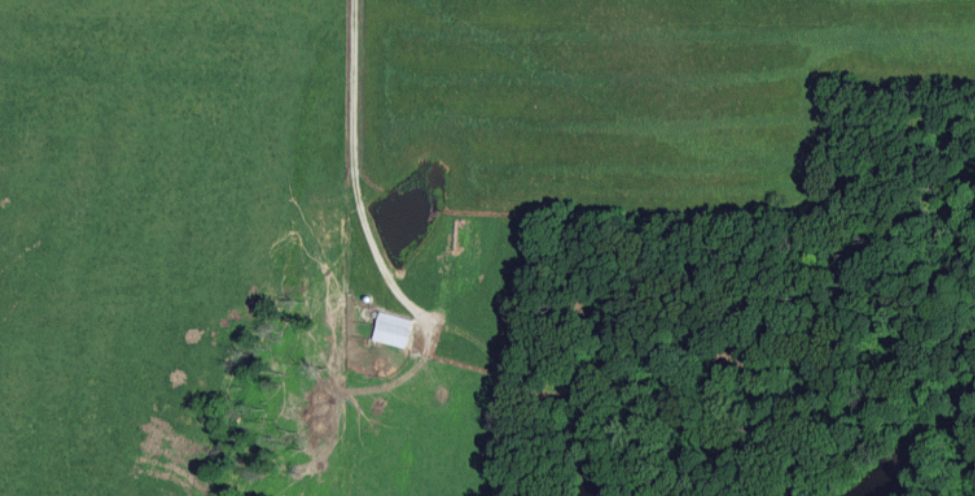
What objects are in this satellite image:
building: (393, 328)

